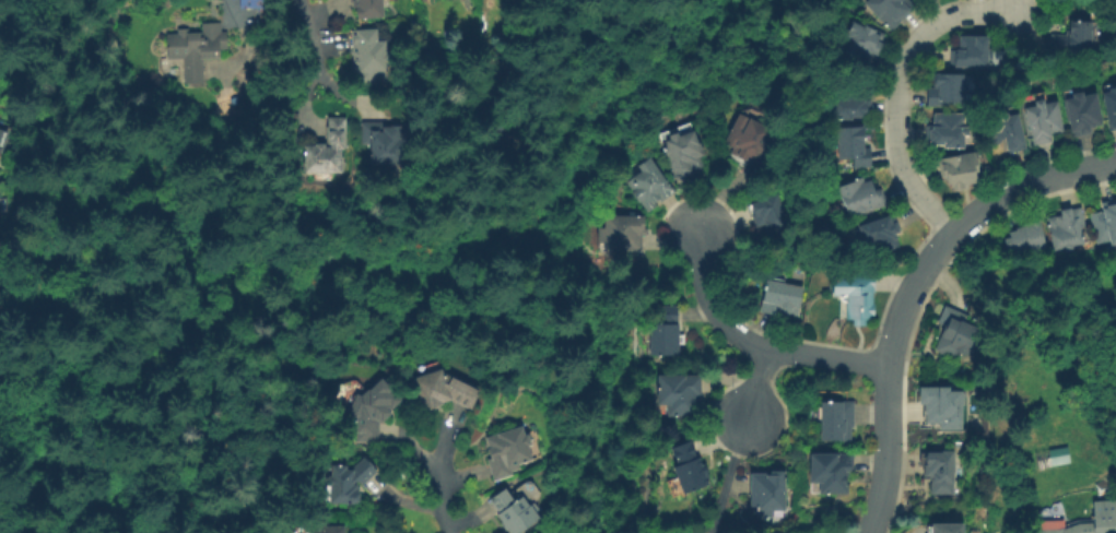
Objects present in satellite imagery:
building: (330, 0)
building: (251, 3)
road: (856, 7)
building: (371, 8)
building: (888, 10)
building: (1077, 36)
road: (313, 40)
building: (856, 43)
building: (195, 49)
building: (975, 49)
building: (373, 55)
building: (951, 86)
road: (898, 88)
building: (1112, 98)
building: (856, 100)
building: (1088, 108)
building: (1048, 116)
building: (952, 127)
building: (1012, 127)
building: (3, 134)
building: (753, 135)
building: (389, 140)
building: (858, 142)
building: (688, 145)
building: (330, 146)
building: (959, 169)
building: (649, 181)
building: (0, 191)
building: (866, 194)
building: (4, 205)
building: (774, 212)
building: (1105, 222)
building: (1068, 228)
building: (626, 229)
building: (882, 232)
building: (1029, 236)
road: (16, 256)
road: (908, 288)
building: (860, 292)
building: (785, 296)
building: (669, 330)
building: (953, 335)
road: (752, 344)
building: (446, 388)
road: (752, 388)
building: (682, 391)
building: (942, 406)
building: (374, 407)
building: (839, 418)
building: (513, 450)
building: (1050, 457)
building: (694, 465)
building: (827, 470)
building: (942, 470)
road: (726, 476)
building: (353, 478)
road: (437, 481)
building: (773, 489)
building: (517, 509)
building: (1088, 520)
building: (953, 526)
building: (331, 529)

